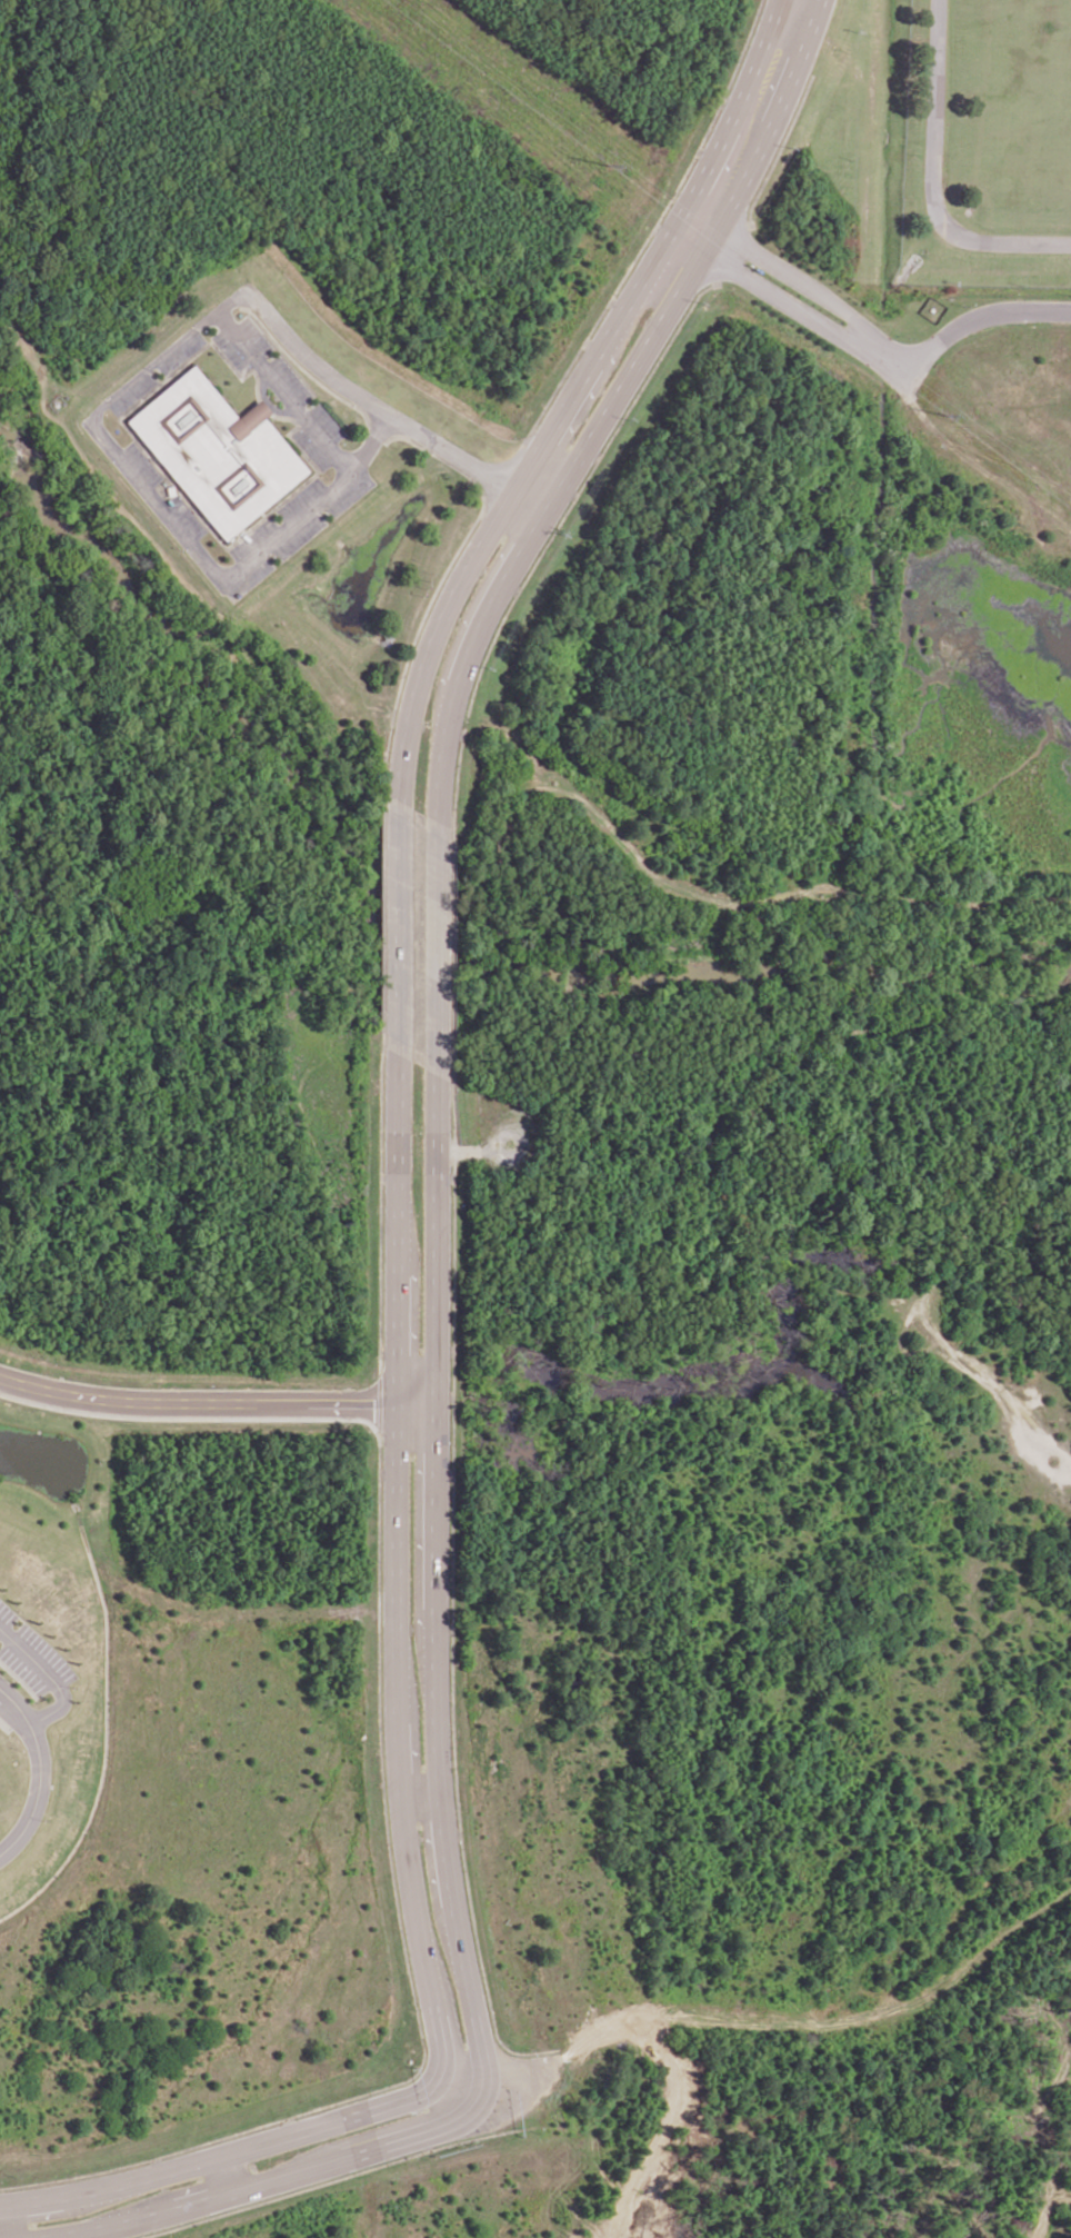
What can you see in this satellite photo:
power tower: (607, 163)
road: (930, 179)
road: (695, 225)
road: (722, 245)
road: (960, 324)
road: (859, 331)
road: (570, 395)
road: (608, 406)
power tower: (945, 412)
road: (381, 421)
road: (108, 450)
building: (217, 451)
road: (394, 928)
road: (433, 948)
road: (216, 1410)
road: (394, 1572)
road: (433, 1597)
parking lot: (28, 1661)
road: (46, 1683)
road: (33, 1777)
road: (419, 1803)
road: (228, 2154)
road: (221, 2176)
road: (274, 2180)
road: (3, 2224)

